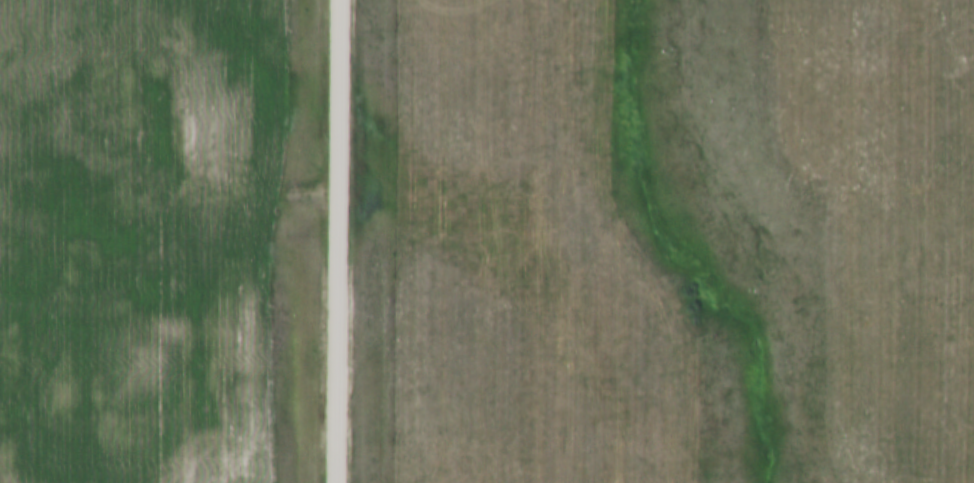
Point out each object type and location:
road: (339, 241)

